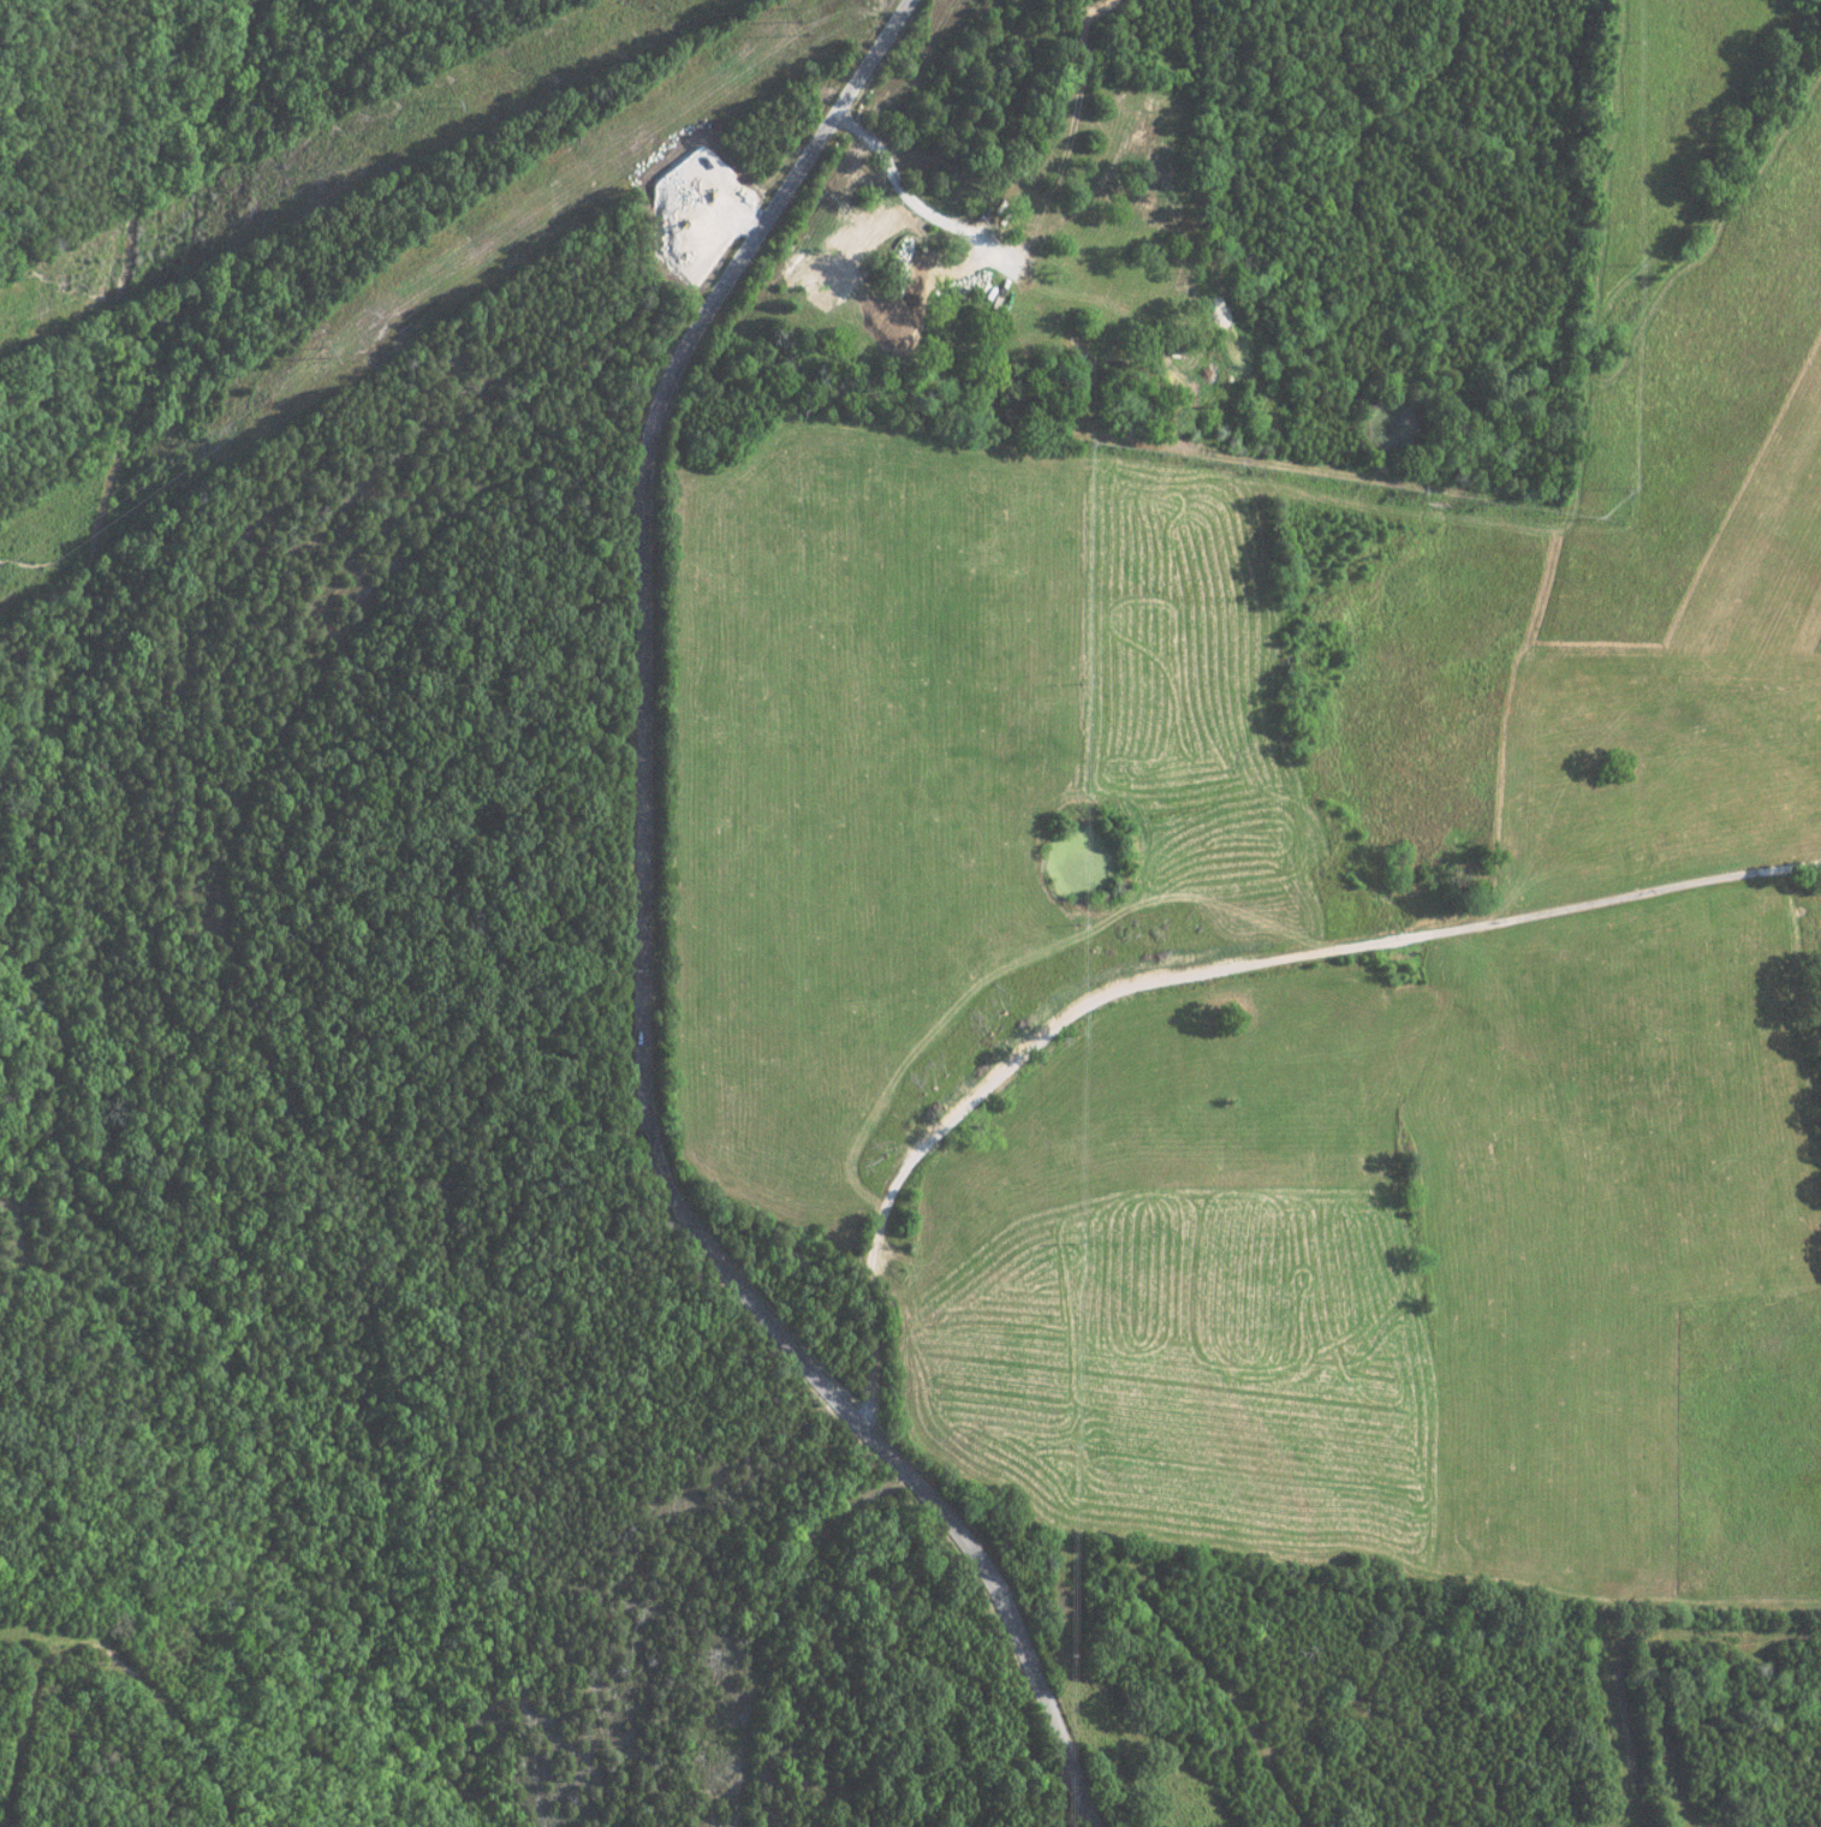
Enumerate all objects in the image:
power tower: (803, 23)
power tower: (452, 108)
building: (924, 280)
building: (963, 282)
power tower: (323, 351)
road: (643, 946)
road: (1203, 976)

